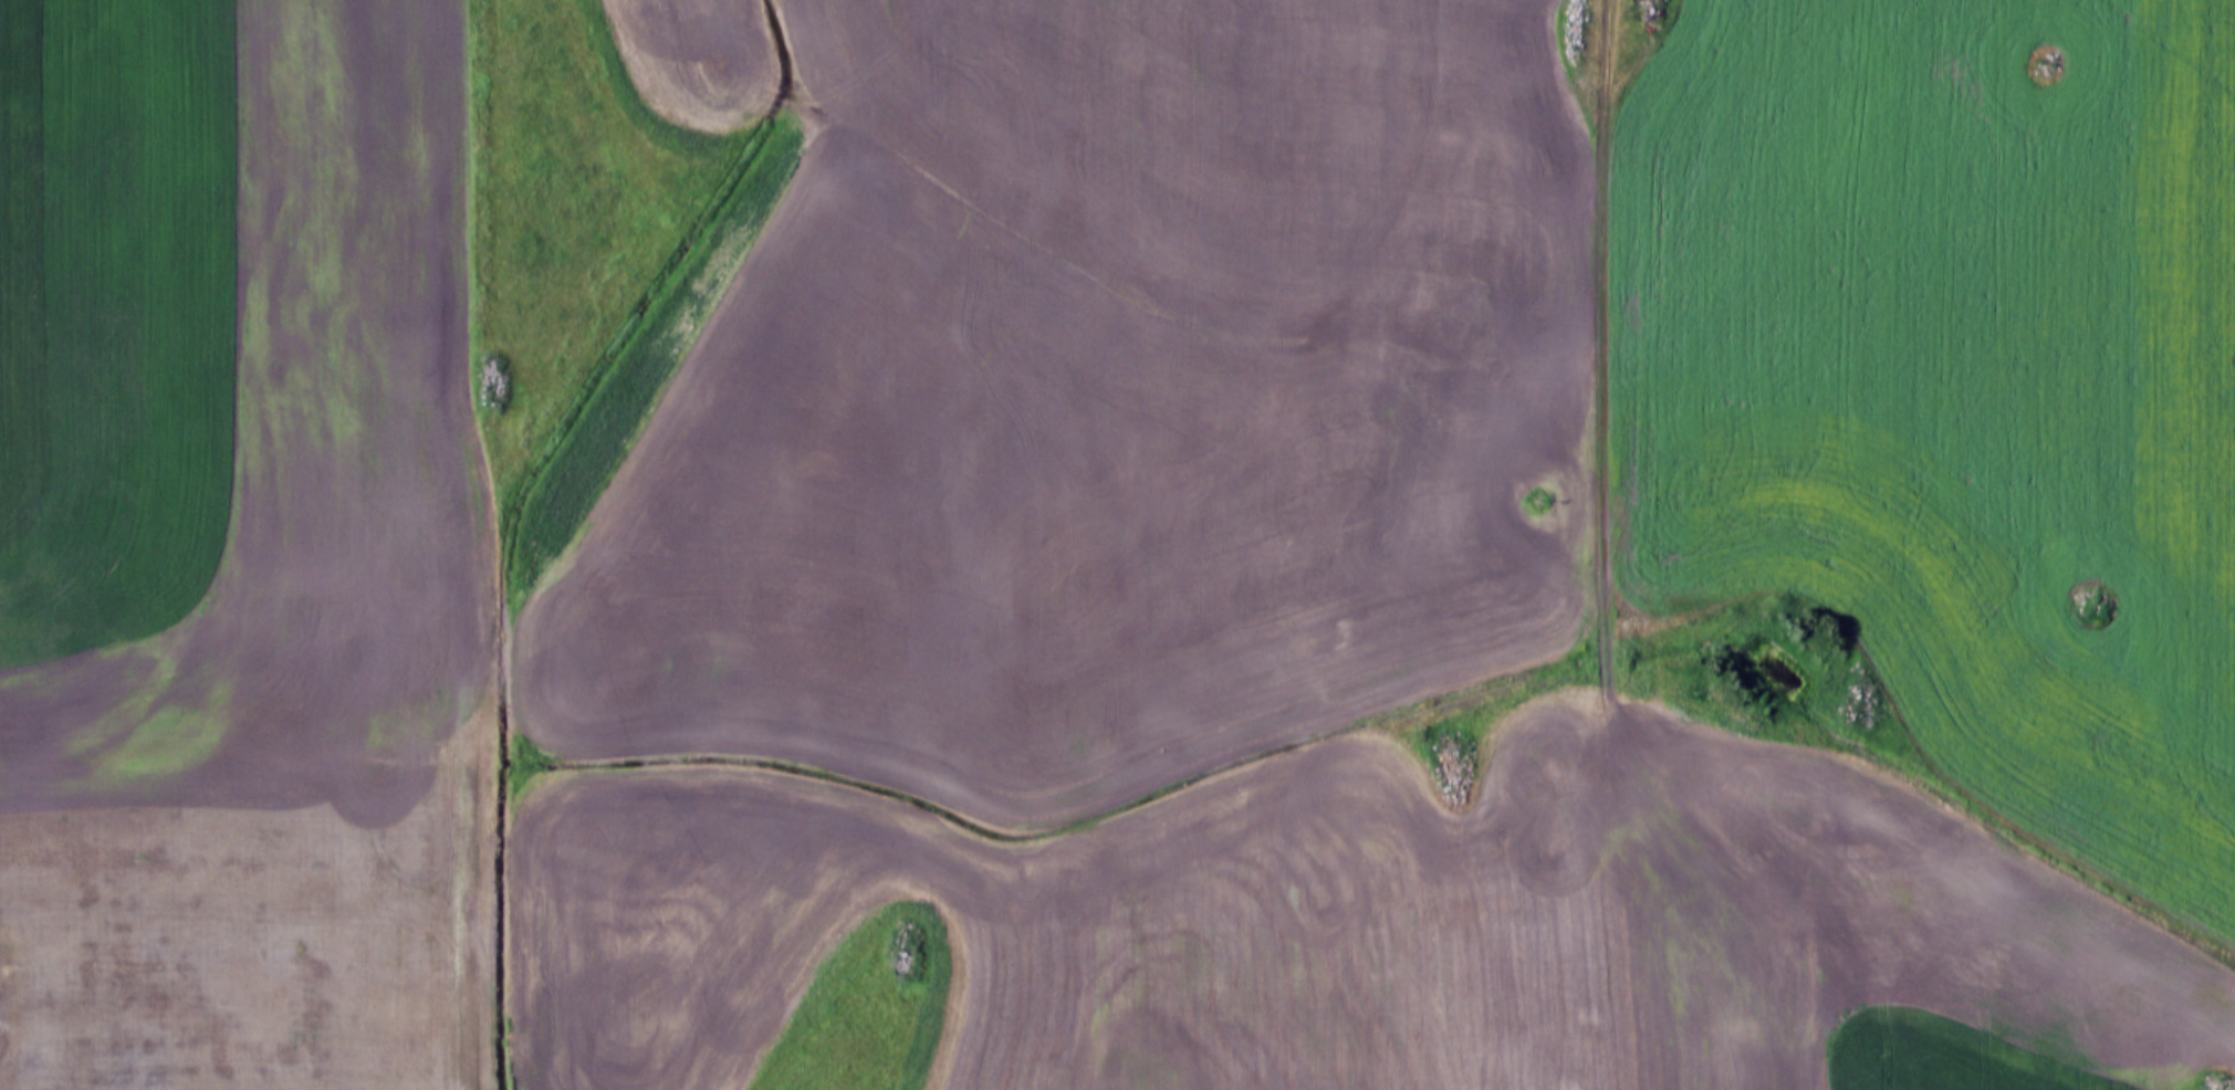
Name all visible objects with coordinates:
road: (1015, 851)

